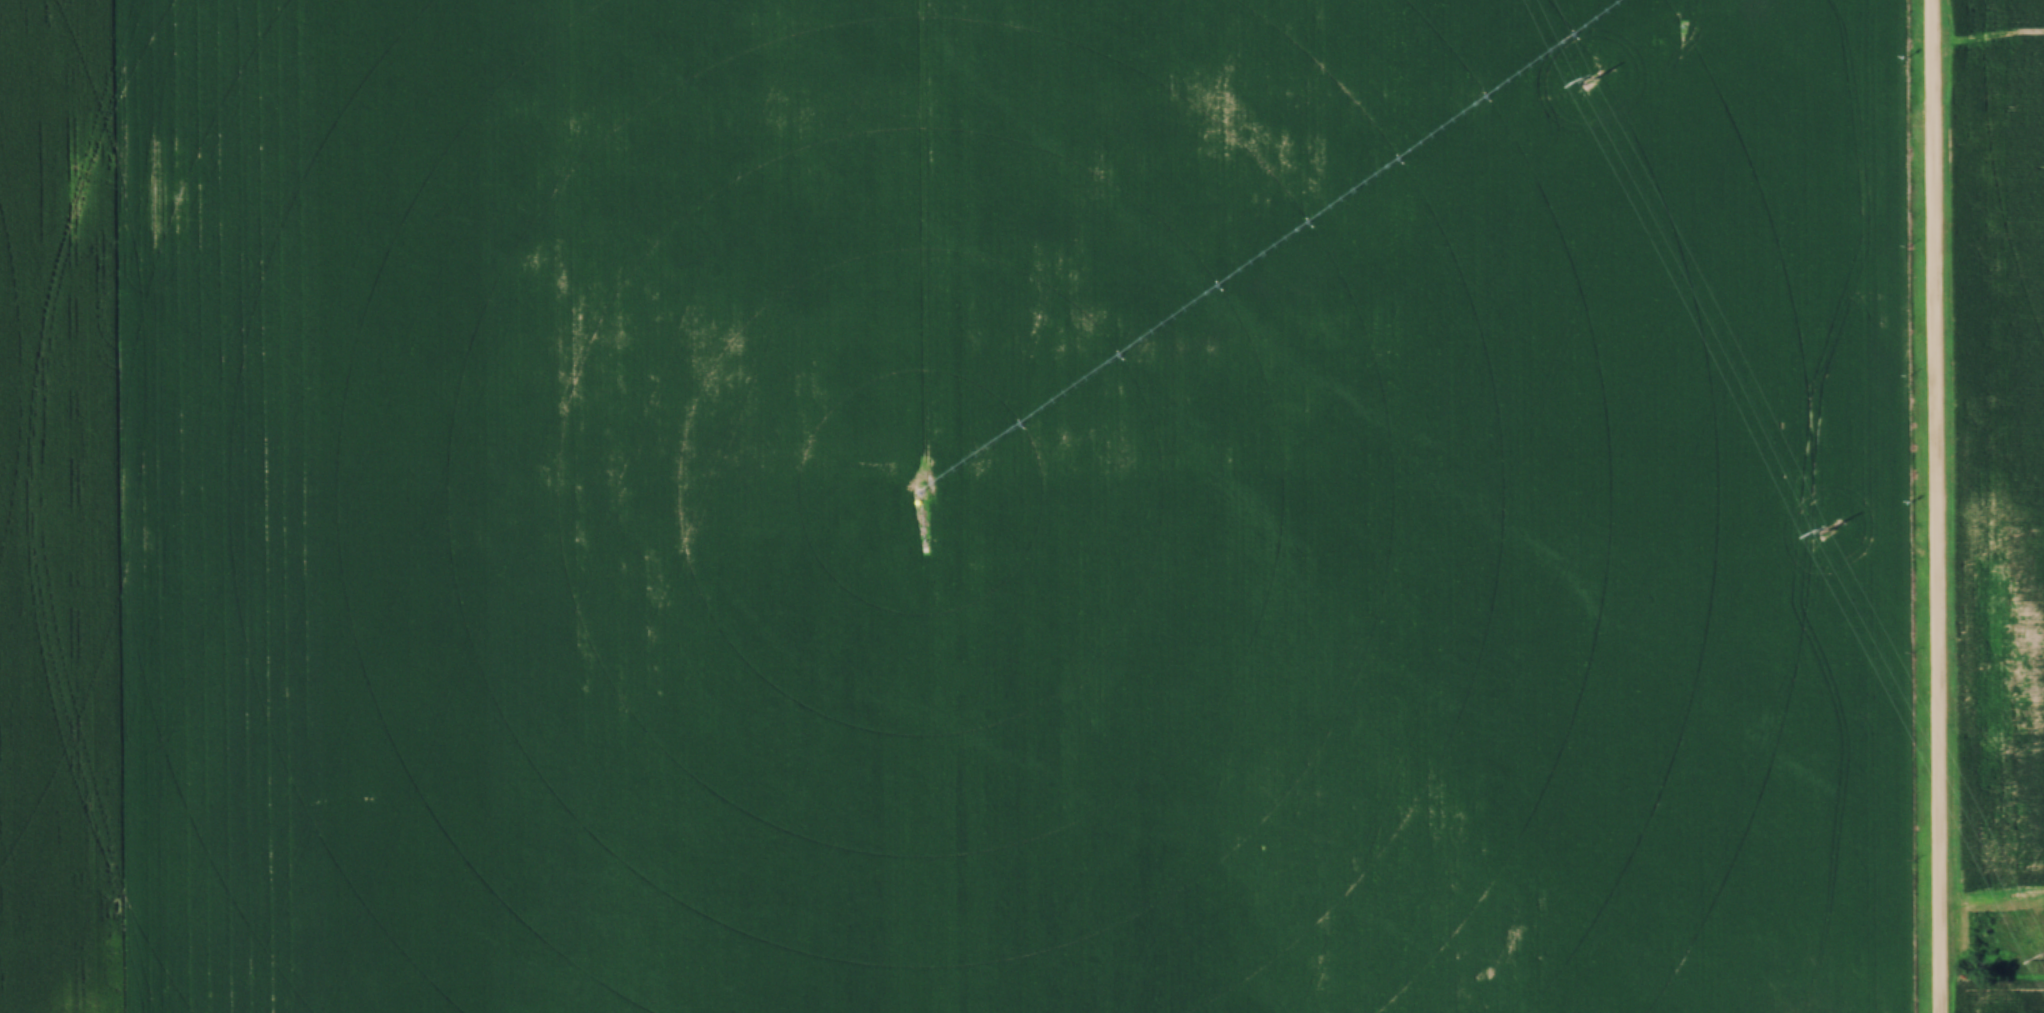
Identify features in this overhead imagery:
power tower: (1588, 81)
road: (1936, 506)
power tower: (1824, 533)

